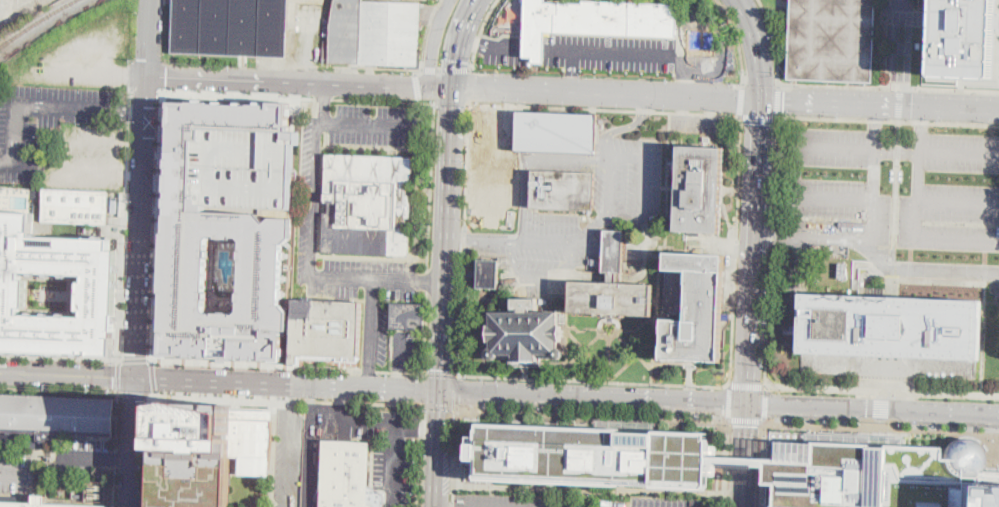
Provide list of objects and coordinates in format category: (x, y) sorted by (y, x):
road: (916, 15)
building: (594, 20)
road: (997, 21)
railway: (36, 22)
building: (235, 26)
road: (481, 32)
building: (375, 33)
road: (149, 37)
road: (426, 37)
building: (965, 39)
road: (472, 40)
parking lot: (723, 40)
road: (737, 40)
building: (833, 40)
road: (773, 41)
road: (433, 42)
road: (458, 42)
building: (700, 43)
road: (894, 43)
road: (757, 48)
road: (503, 49)
road: (535, 50)
parking lot: (506, 51)
road: (720, 52)
parking lot: (610, 53)
road: (619, 53)
road: (424, 68)
road: (431, 68)
road: (457, 68)
road: (439, 69)
road: (573, 72)
road: (301, 81)
road: (961, 84)
road: (417, 85)
road: (470, 85)
road: (707, 85)
road: (760, 86)
road: (888, 86)
traffic signals: (453, 89)
road: (297, 96)
road: (726, 99)
road: (420, 100)
road: (740, 100)
traffic signals: (759, 101)
road: (779, 101)
road: (451, 102)
road: (899, 104)
road: (70, 105)
road: (683, 106)
road: (711, 107)
road: (134, 109)
road: (605, 109)
road: (711, 117)
road: (760, 117)
road: (678, 118)
road: (702, 118)
building: (488, 120)
road: (888, 120)
parking lot: (46, 121)
road: (873, 122)
road: (920, 122)
parking lot: (702, 125)
road: (627, 128)
road: (16, 132)
building: (557, 132)
road: (833, 147)
road: (959, 153)
parking lot: (89, 157)
road: (571, 159)
road: (7, 161)
building: (243, 167)
parking garage: (243, 167)
road: (168, 179)
road: (668, 179)
building: (485, 184)
road: (656, 188)
road: (670, 189)
building: (699, 189)
road: (871, 189)
road: (916, 189)
parking lot: (946, 189)
building: (563, 190)
road: (730, 192)
road: (524, 196)
road: (831, 199)
road: (957, 202)
building: (367, 204)
parking lot: (854, 204)
building: (75, 206)
road: (674, 206)
road: (726, 212)
parking lot: (587, 217)
road: (643, 221)
road: (142, 227)
road: (157, 227)
building: (250, 228)
road: (122, 234)
road: (770, 236)
road: (429, 238)
road: (463, 238)
road: (828, 238)
road: (446, 240)
road: (459, 240)
road: (497, 241)
road: (956, 242)
road: (736, 250)
building: (613, 251)
road: (753, 251)
road: (772, 251)
road: (512, 256)
road: (128, 257)
road: (573, 260)
building: (842, 271)
road: (925, 271)
building: (488, 272)
road: (659, 278)
building: (856, 282)
building: (54, 290)
parking garage: (54, 290)
building: (612, 299)
road: (492, 300)
building: (694, 306)
building: (407, 314)
helipad: (835, 324)
road: (654, 326)
building: (891, 327)
road: (640, 328)
building: (325, 330)
road: (583, 331)
road: (565, 334)
building: (525, 335)
road: (609, 336)
road: (567, 340)
road: (576, 341)
road: (578, 356)
road: (59, 358)
road: (634, 358)
road: (133, 359)
road: (609, 359)
road: (647, 364)
road: (286, 365)
road: (525, 371)
road: (651, 373)
road: (441, 374)
road: (690, 374)
road: (67, 376)
road: (118, 377)
road: (154, 377)
road: (594, 380)
road: (746, 384)
road: (287, 385)
road: (423, 389)
road: (458, 389)
road: (882, 390)
road: (59, 391)
traffic signals: (440, 391)
road: (133, 394)
road: (883, 394)
road: (594, 397)
road: (285, 398)
road: (728, 400)
traffic signals: (750, 403)
road: (765, 403)
road: (341, 404)
road: (435, 405)
road: (883, 407)
road: (874, 409)
road: (326, 411)
road: (588, 412)
building: (54, 417)
road: (746, 419)
road: (372, 422)
road: (882, 422)
road: (421, 425)
road: (881, 425)
road: (133, 443)
road: (309, 446)
parking lot: (379, 447)
road: (292, 448)
road: (437, 448)
road: (116, 450)
road: (148, 451)
building: (207, 451)
parking lot: (288, 454)
road: (747, 454)
parking garage: (192, 455)
road: (419, 455)
road: (455, 455)
building: (593, 455)
parking lot: (82, 458)
road: (96, 458)
building: (745, 462)
road: (726, 463)
road: (762, 463)
road: (393, 464)
parking lot: (16, 473)
road: (13, 474)
building: (345, 474)
building: (875, 476)
building: (986, 476)
building: (77, 484)
building: (990, 495)
building: (79, 496)
parking lot: (532, 500)
parking lot: (670, 502)
building: (38, 503)

